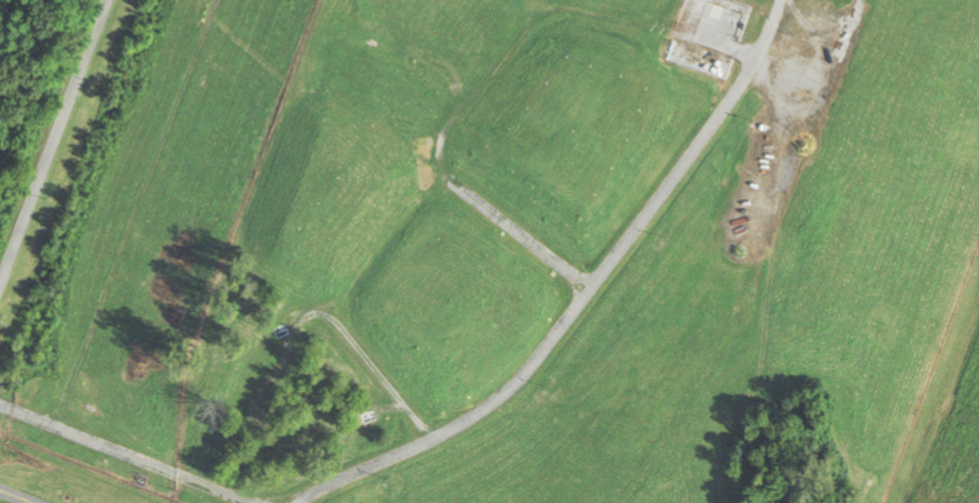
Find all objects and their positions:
building: (793, 72)
road: (49, 132)
road: (22, 494)
road: (300, 498)

